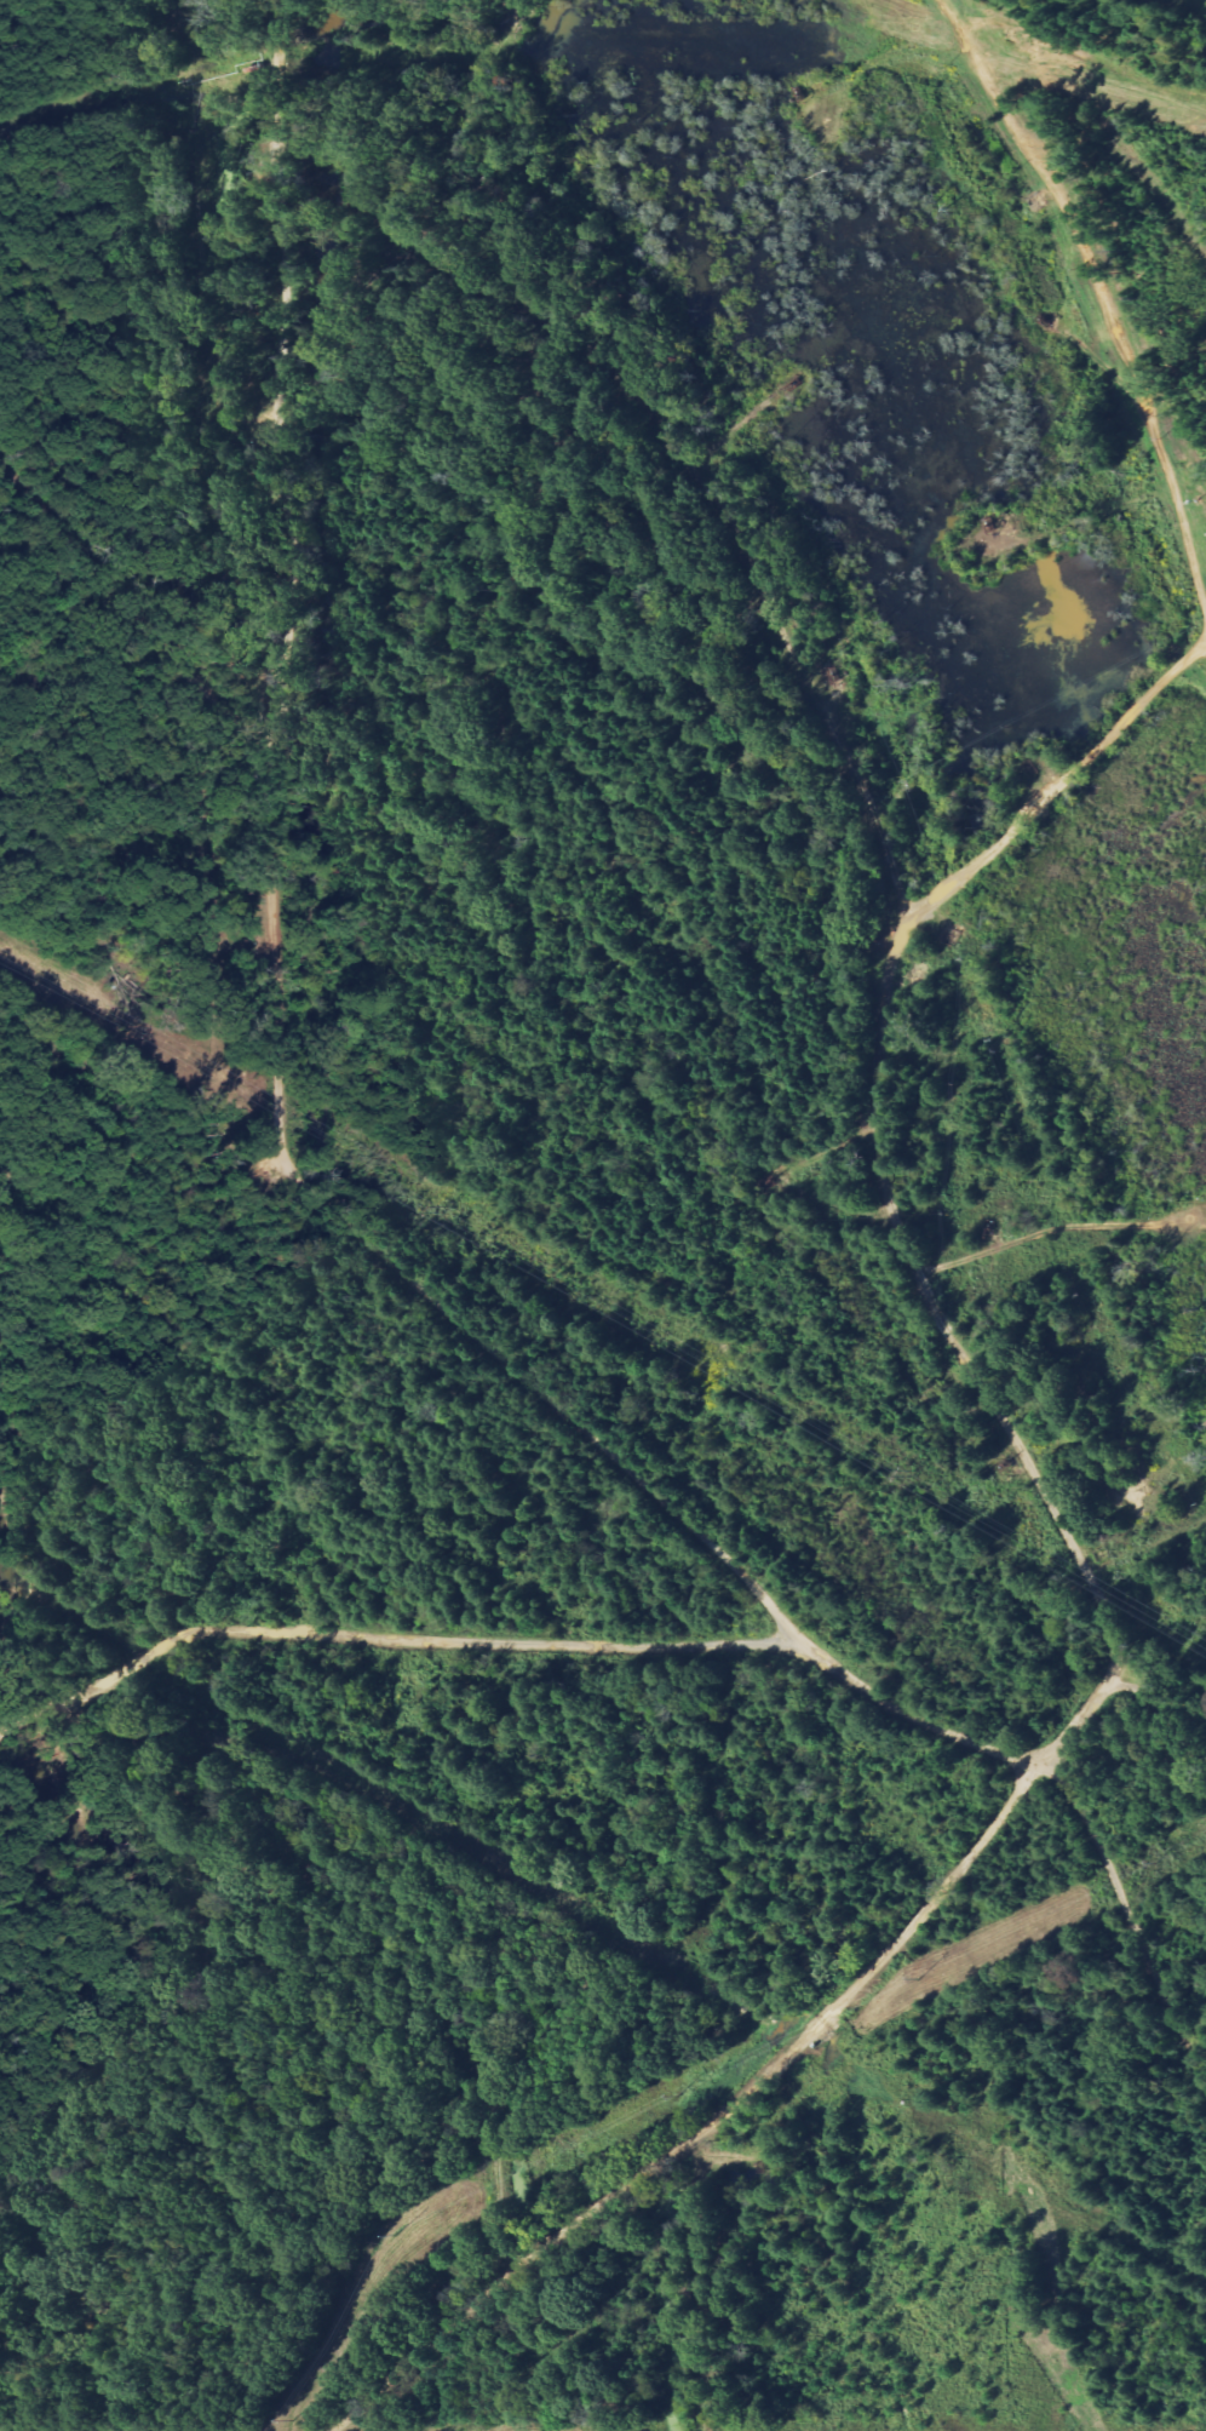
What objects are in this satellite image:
power tower: (114, 1026)
power tower: (447, 1206)
power tower: (894, 1469)

